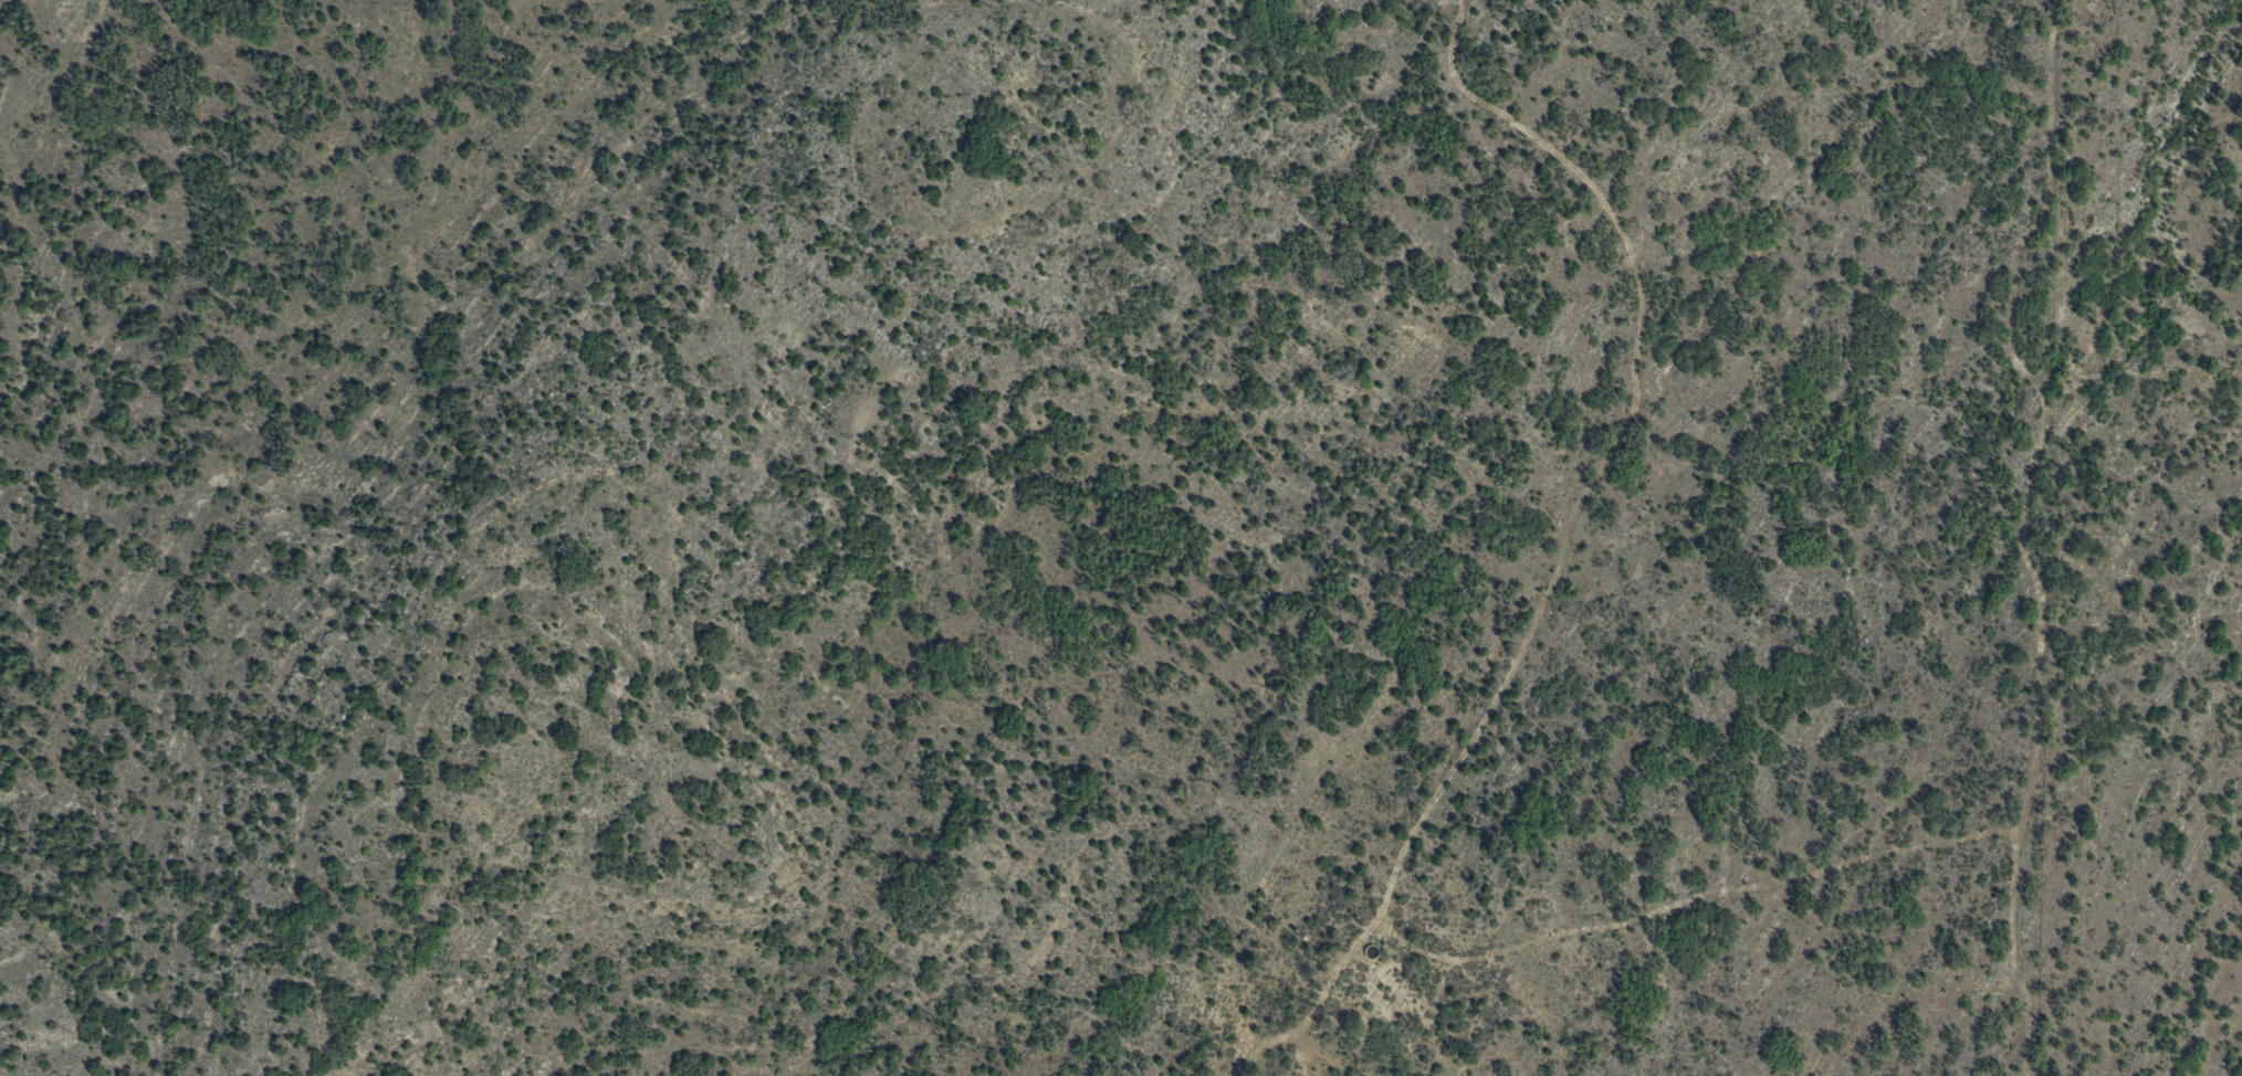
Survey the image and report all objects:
road: (1596, 540)

